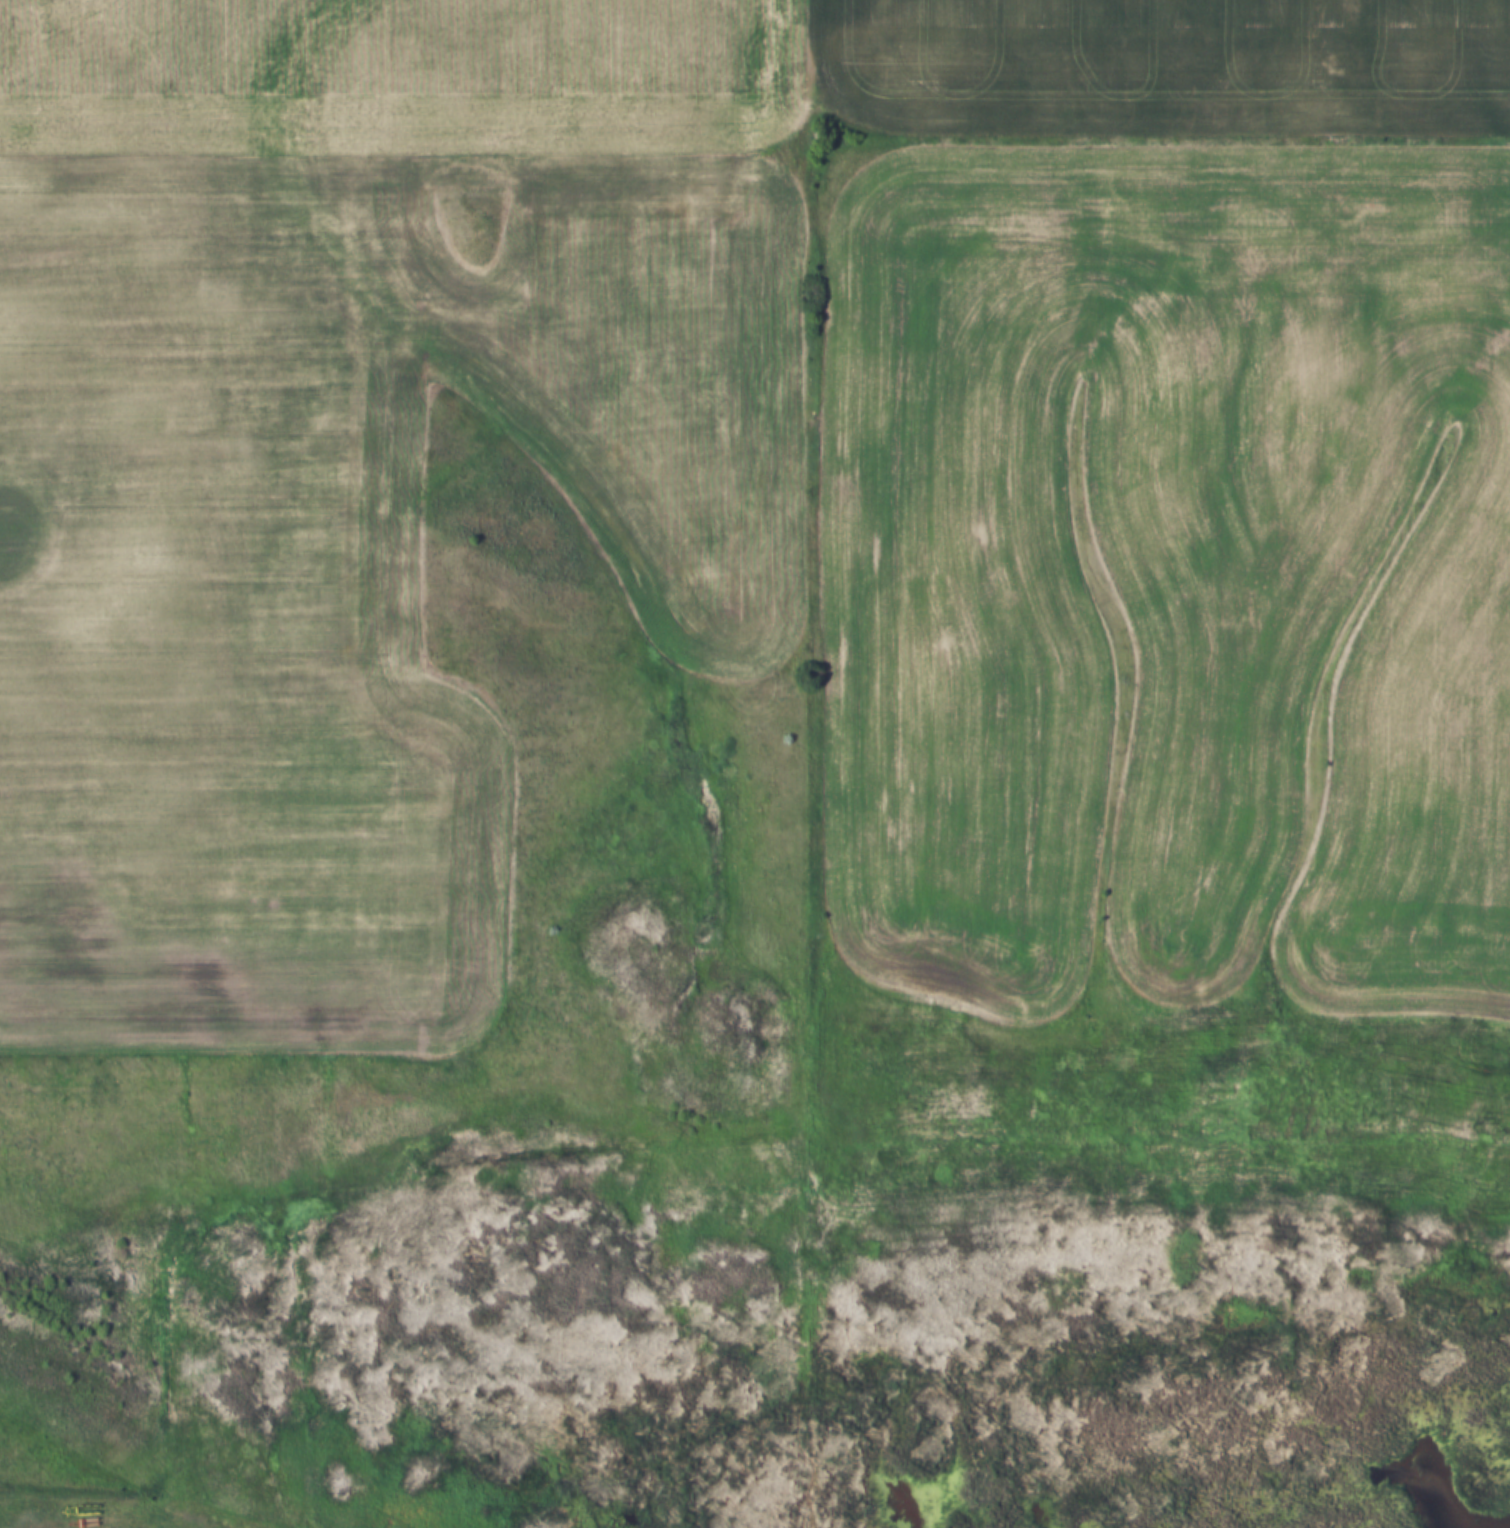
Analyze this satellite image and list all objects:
road: (267, 1385)

